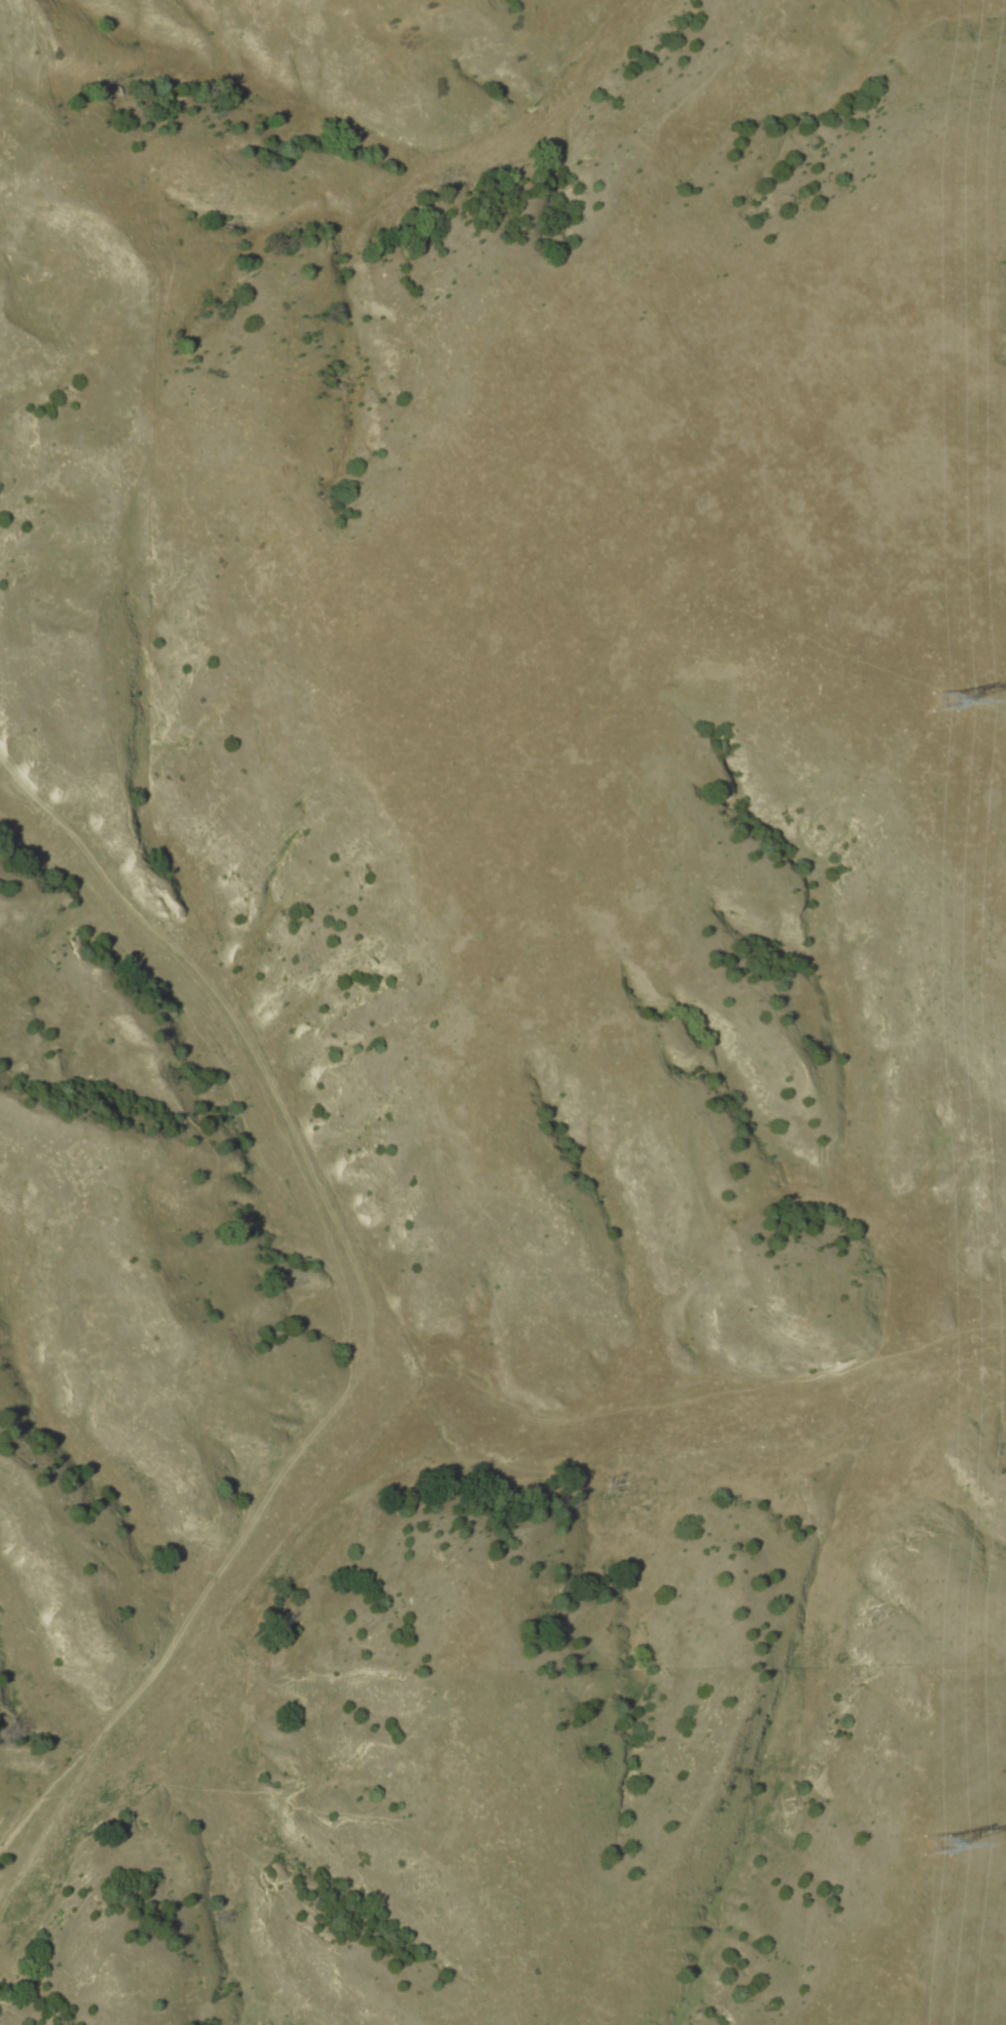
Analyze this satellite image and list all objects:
power tower: (945, 698)
power tower: (937, 1845)

